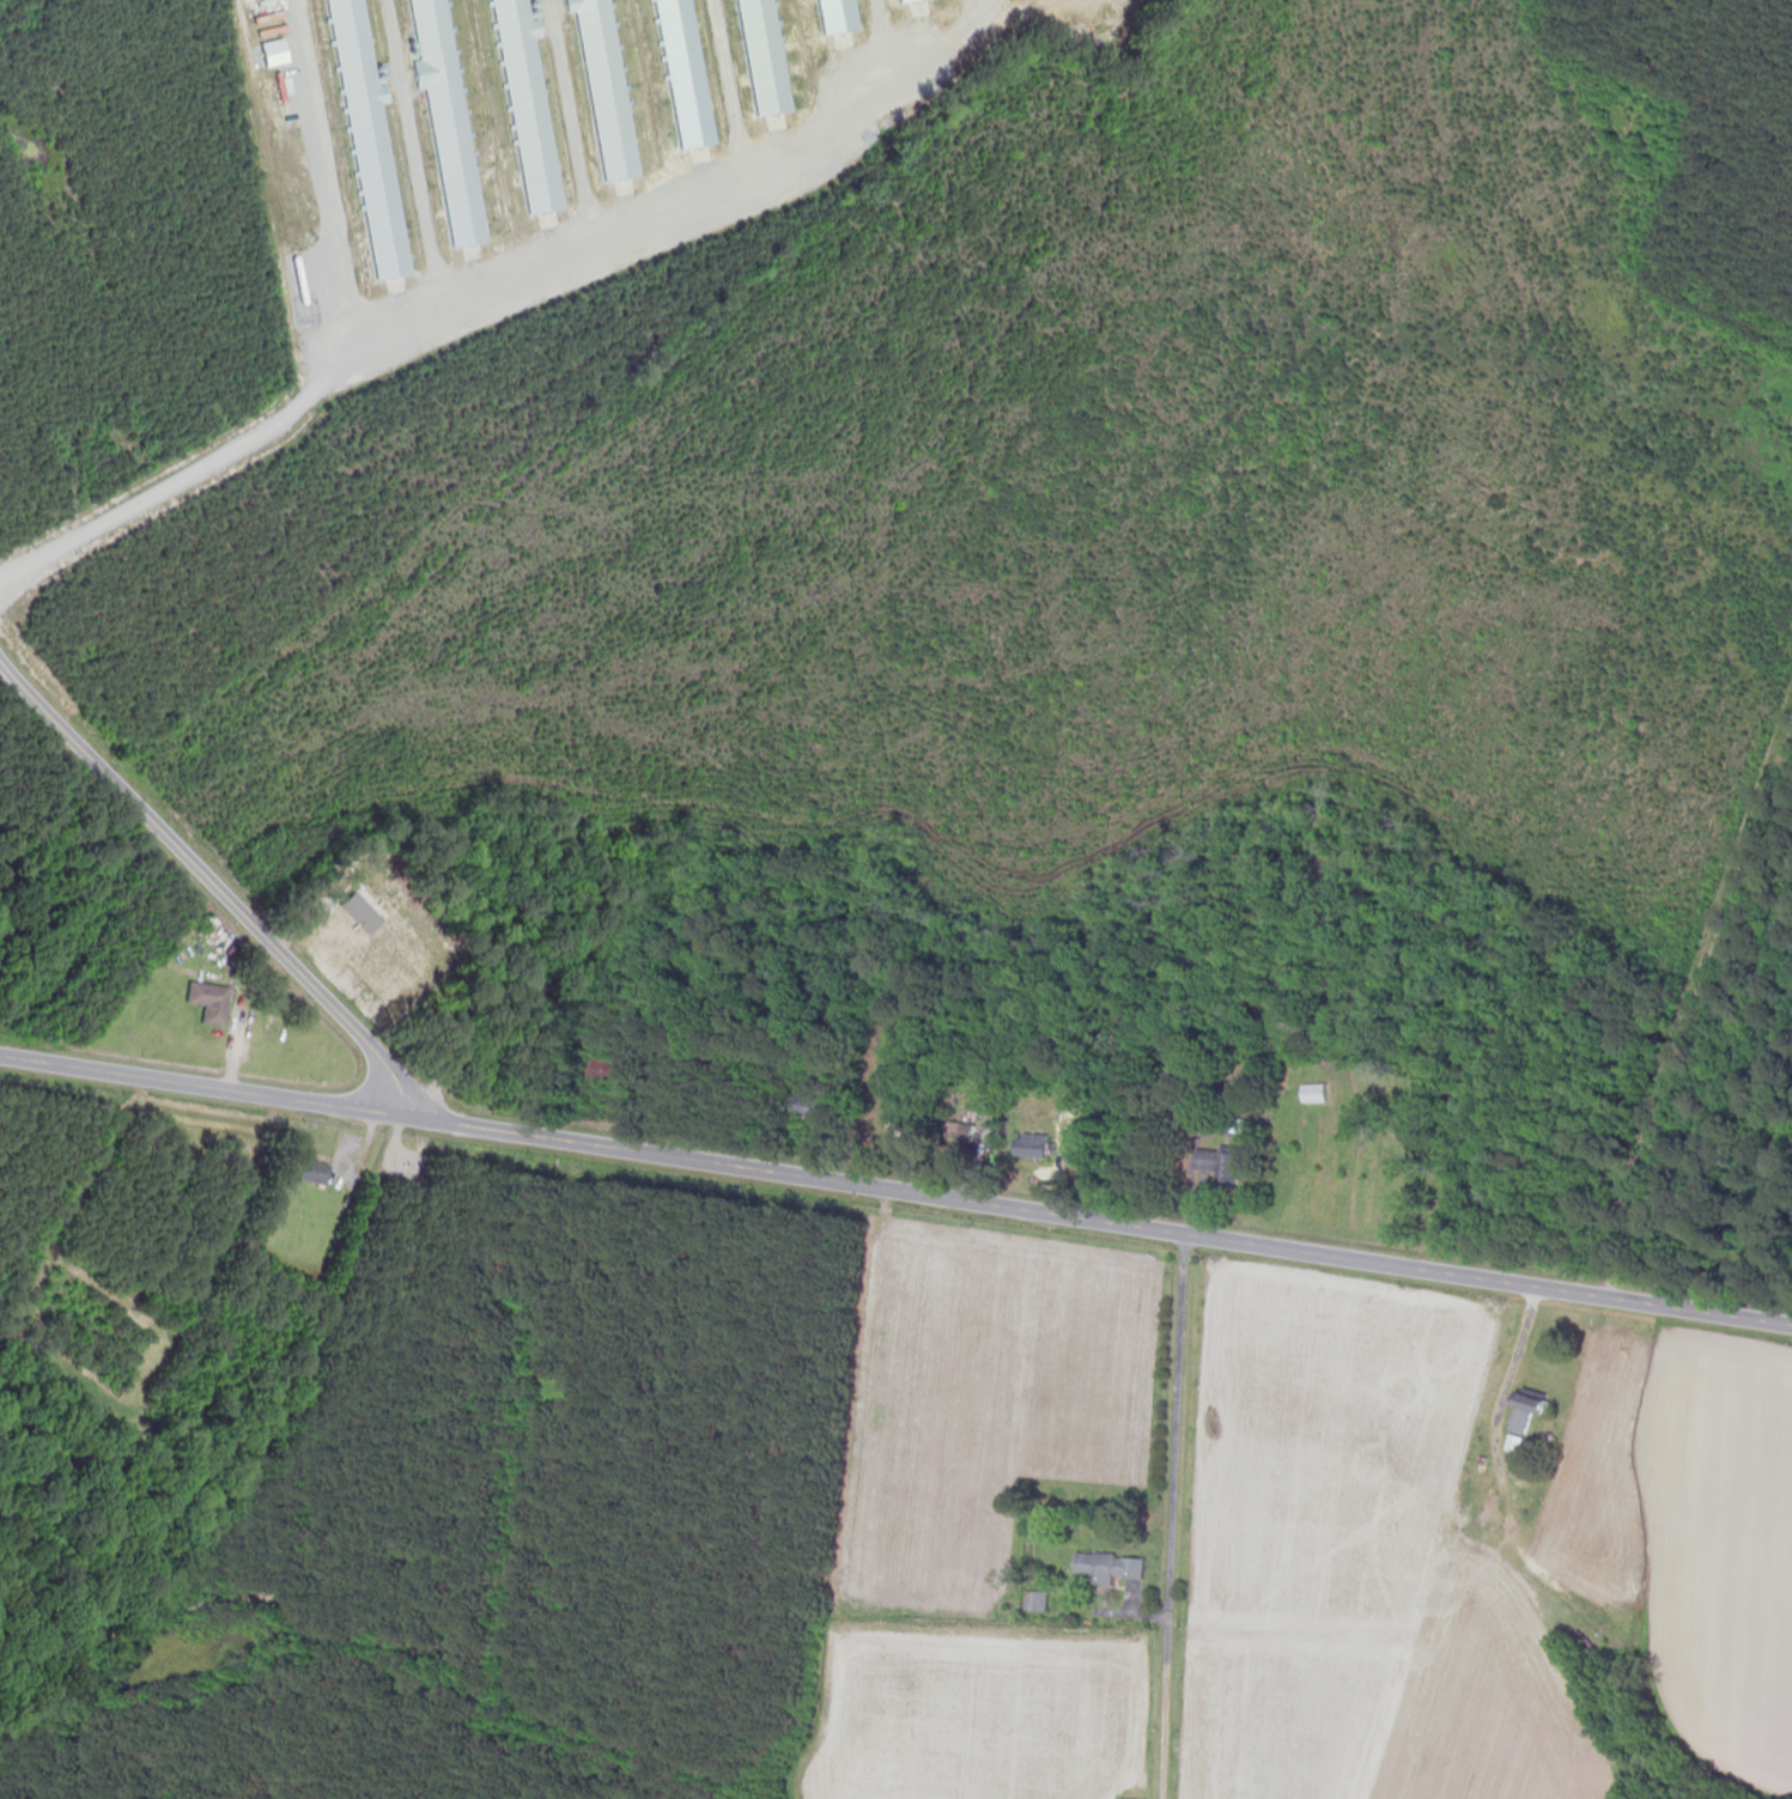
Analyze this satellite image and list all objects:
road: (499, 297)
road: (213, 885)
building: (212, 1002)
building: (616, 1075)
building: (1317, 1093)
building: (812, 1108)
building: (1241, 1126)
building: (898, 1135)
building: (1033, 1147)
building: (1225, 1166)
building: (314, 1171)
road: (895, 1191)
building: (1519, 1422)
road: (1183, 1518)
building: (1116, 1566)
building: (1039, 1600)
building: (1581, 1646)

